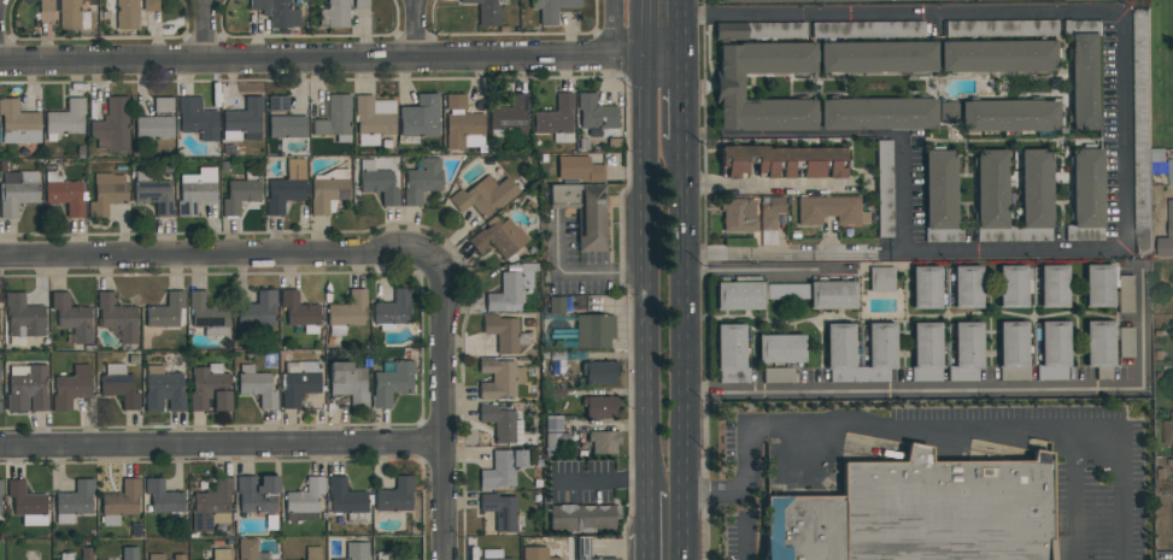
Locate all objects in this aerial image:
building: (800, 0)
building: (1004, 0)
building: (360, 4)
building: (149, 5)
building: (46, 6)
building: (551, 8)
building: (487, 11)
building: (276, 12)
building: (334, 14)
building: (72, 16)
building: (123, 16)
road: (899, 16)
road: (658, 18)
building: (1140, 24)
road: (676, 25)
road: (614, 26)
road: (420, 28)
building: (867, 28)
building: (1001, 28)
road: (207, 29)
building: (775, 29)
building: (729, 31)
building: (998, 55)
road: (338, 57)
building: (878, 57)
park: (1161, 72)
building: (1085, 73)
building: (728, 86)
road: (678, 95)
building: (454, 101)
building: (277, 104)
building: (163, 105)
building: (948, 113)
building: (878, 114)
building: (509, 116)
building: (1009, 116)
building: (420, 117)
building: (597, 117)
building: (335, 118)
building: (65, 119)
building: (198, 119)
building: (373, 119)
building: (556, 119)
building: (242, 120)
building: (18, 124)
building: (112, 125)
building: (287, 126)
building: (153, 129)
road: (1122, 130)
building: (464, 131)
building: (784, 161)
building: (579, 169)
building: (1169, 172)
building: (422, 181)
building: (377, 182)
building: (286, 187)
building: (884, 189)
building: (197, 190)
building: (17, 191)
building: (328, 191)
building: (153, 193)
building: (240, 193)
building: (64, 194)
building: (106, 194)
road: (904, 195)
building: (485, 196)
building: (1034, 196)
building: (1086, 196)
building: (939, 198)
building: (991, 198)
building: (829, 210)
building: (583, 212)
building: (738, 214)
building: (1169, 218)
building: (769, 219)
building: (498, 237)
road: (643, 244)
building: (1142, 249)
road: (901, 252)
road: (215, 255)
road: (580, 275)
building: (880, 279)
building: (1098, 284)
building: (1052, 285)
building: (966, 287)
building: (1013, 287)
building: (925, 288)
building: (511, 289)
building: (784, 294)
building: (1125, 294)
building: (257, 310)
building: (165, 311)
building: (392, 311)
building: (300, 312)
building: (346, 312)
building: (207, 314)
building: (117, 317)
building: (71, 318)
building: (23, 319)
building: (593, 330)
building: (504, 334)
building: (1125, 342)
building: (780, 348)
building: (1099, 348)
road: (681, 349)
building: (1013, 350)
building: (1052, 350)
building: (879, 352)
building: (926, 352)
building: (966, 352)
building: (731, 353)
building: (840, 353)
building: (600, 372)
building: (778, 375)
building: (499, 379)
building: (299, 382)
building: (391, 383)
building: (348, 384)
building: (119, 385)
building: (256, 387)
building: (25, 388)
building: (71, 388)
building: (209, 388)
building: (163, 389)
road: (987, 390)
building: (599, 406)
road: (445, 407)
building: (502, 424)
building: (1167, 430)
road: (983, 435)
building: (603, 441)
road: (222, 443)
building: (555, 443)
building: (502, 470)
road: (739, 474)
road: (1119, 476)
building: (1, 488)
road: (664, 493)
building: (257, 494)
building: (395, 495)
building: (305, 496)
building: (163, 497)
building: (0, 500)
building: (346, 500)
building: (74, 502)
building: (121, 502)
building: (27, 505)
building: (212, 506)
building: (1, 509)
road: (646, 511)
building: (500, 512)
building: (927, 514)
building: (582, 518)
road: (745, 540)
road: (647, 546)
building: (247, 549)
building: (585, 549)
building: (356, 550)
building: (129, 553)
building: (312, 553)
building: (535, 553)
building: (86, 554)
building: (221, 554)
building: (492, 554)
building: (66, 556)
building: (156, 556)
building: (178, 556)
building: (383, 556)

